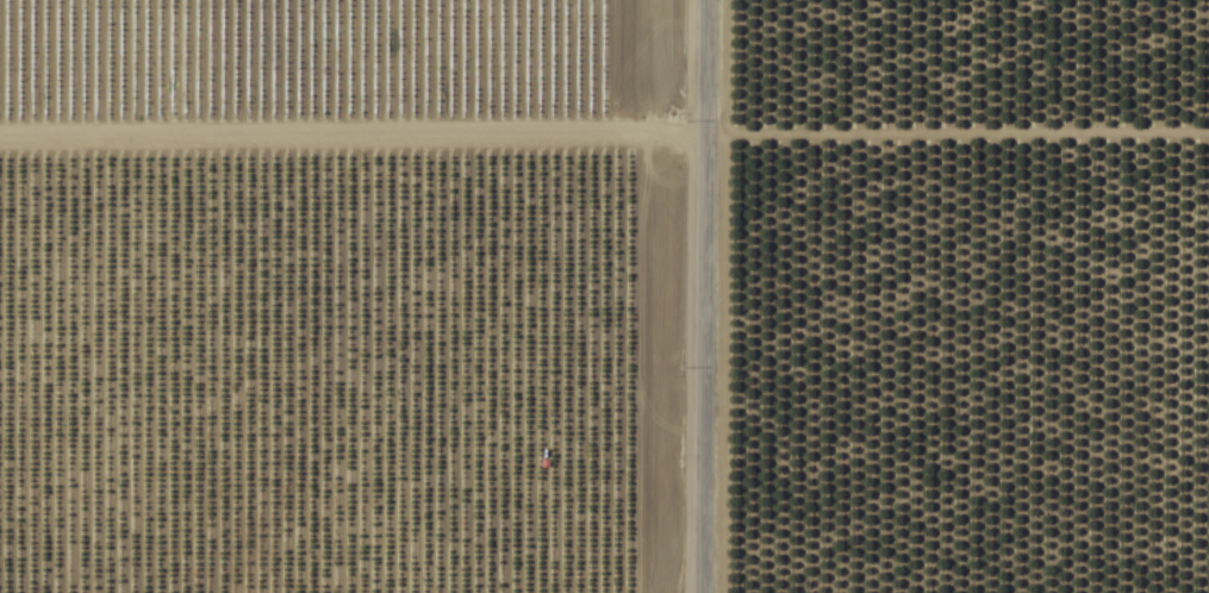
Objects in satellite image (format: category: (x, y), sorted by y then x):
road: (604, 123)
road: (699, 296)

